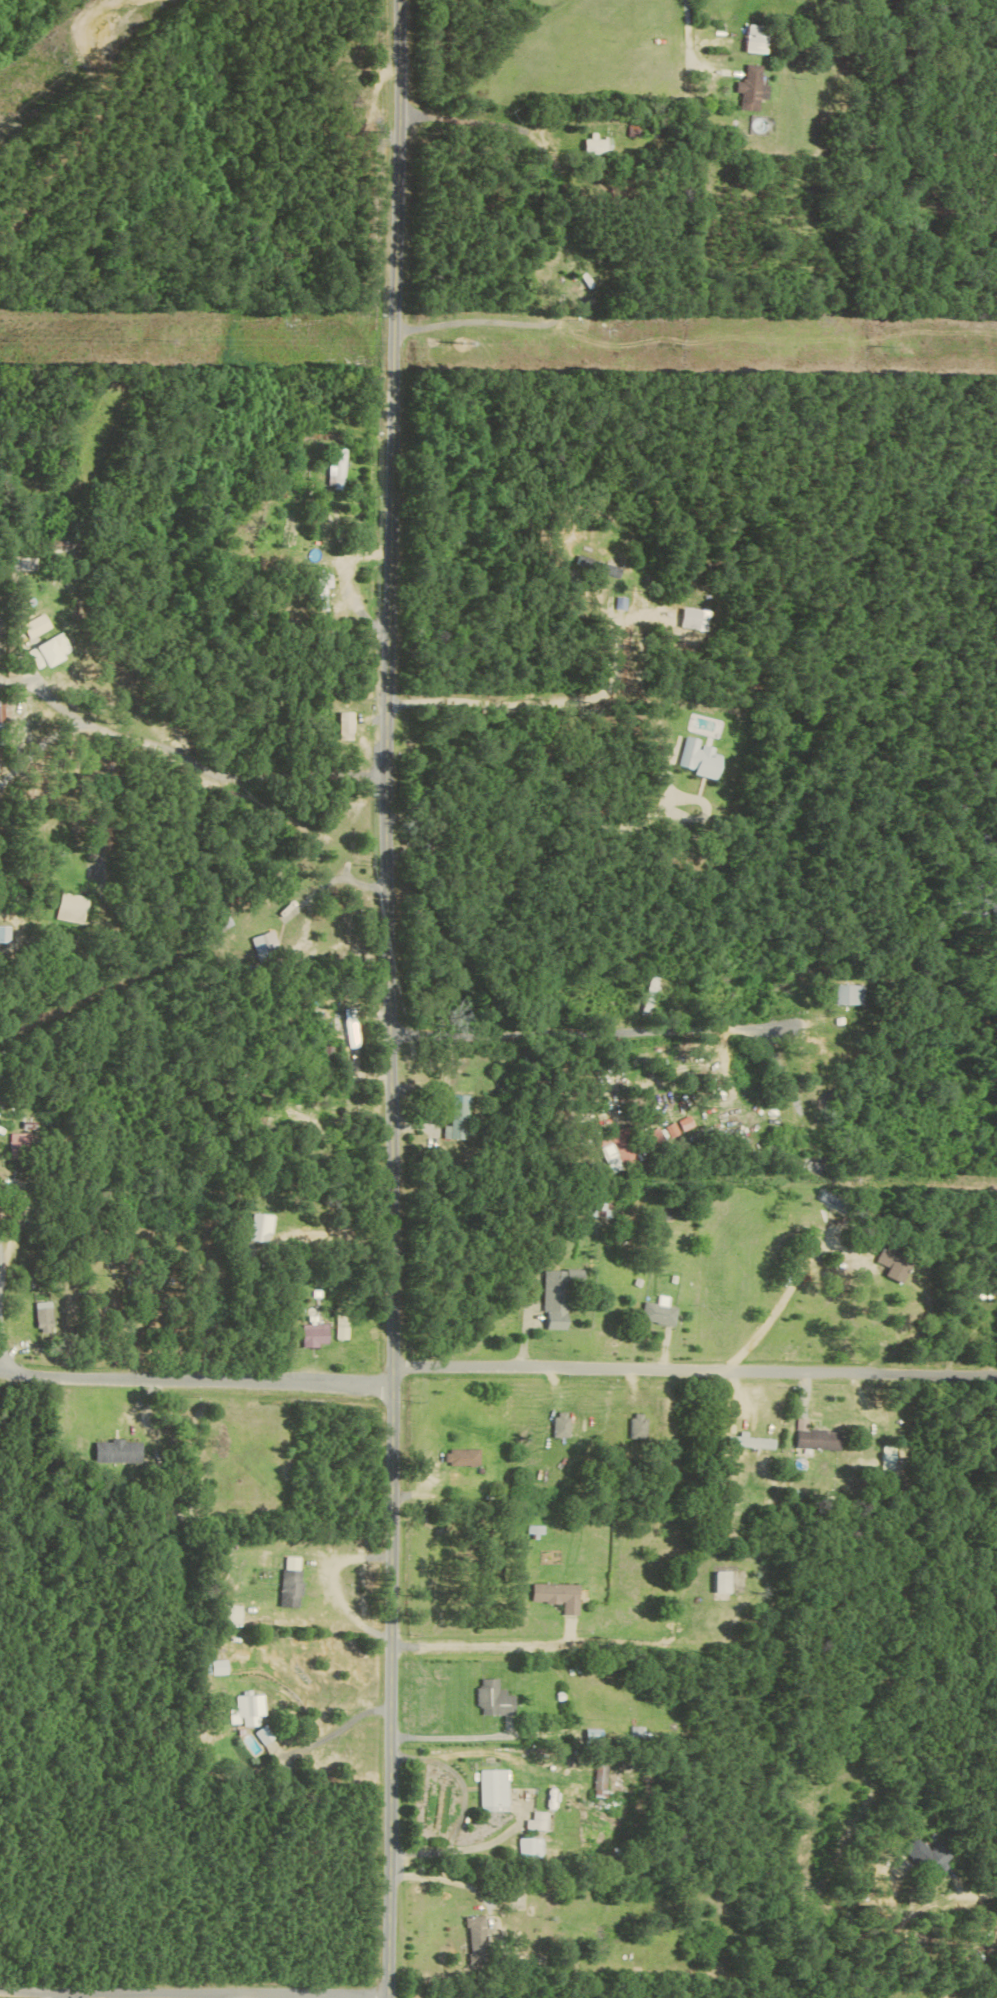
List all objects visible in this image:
building: (759, 39)
road: (694, 43)
building: (755, 88)
building: (598, 145)
road: (480, 321)
building: (338, 469)
building: (598, 566)
building: (695, 619)
building: (37, 626)
building: (50, 652)
road: (534, 703)
road: (208, 746)
building: (698, 759)
building: (71, 908)
road: (340, 941)
building: (262, 944)
building: (650, 986)
building: (847, 995)
road: (391, 999)
road: (594, 1023)
building: (456, 1119)
building: (19, 1145)
building: (595, 1208)
building: (261, 1227)
road: (342, 1233)
building: (890, 1262)
road: (132, 1274)
building: (555, 1296)
road: (1, 1308)
road: (776, 1308)
building: (658, 1313)
building: (43, 1317)
building: (340, 1326)
building: (314, 1334)
road: (695, 1369)
road: (196, 1384)
building: (560, 1424)
building: (637, 1425)
building: (816, 1437)
building: (750, 1441)
building: (116, 1451)
building: (462, 1457)
building: (725, 1581)
building: (290, 1588)
building: (563, 1596)
building: (232, 1614)
road: (553, 1654)
building: (214, 1667)
building: (497, 1698)
building: (248, 1709)
road: (337, 1730)
building: (265, 1734)
road: (457, 1737)
building: (602, 1776)
road: (462, 1781)
building: (496, 1790)
building: (539, 1821)
building: (532, 1847)
road: (458, 1849)
building: (926, 1854)
road: (450, 1878)
road: (983, 1896)
building: (478, 1937)
road: (6, 1997)

